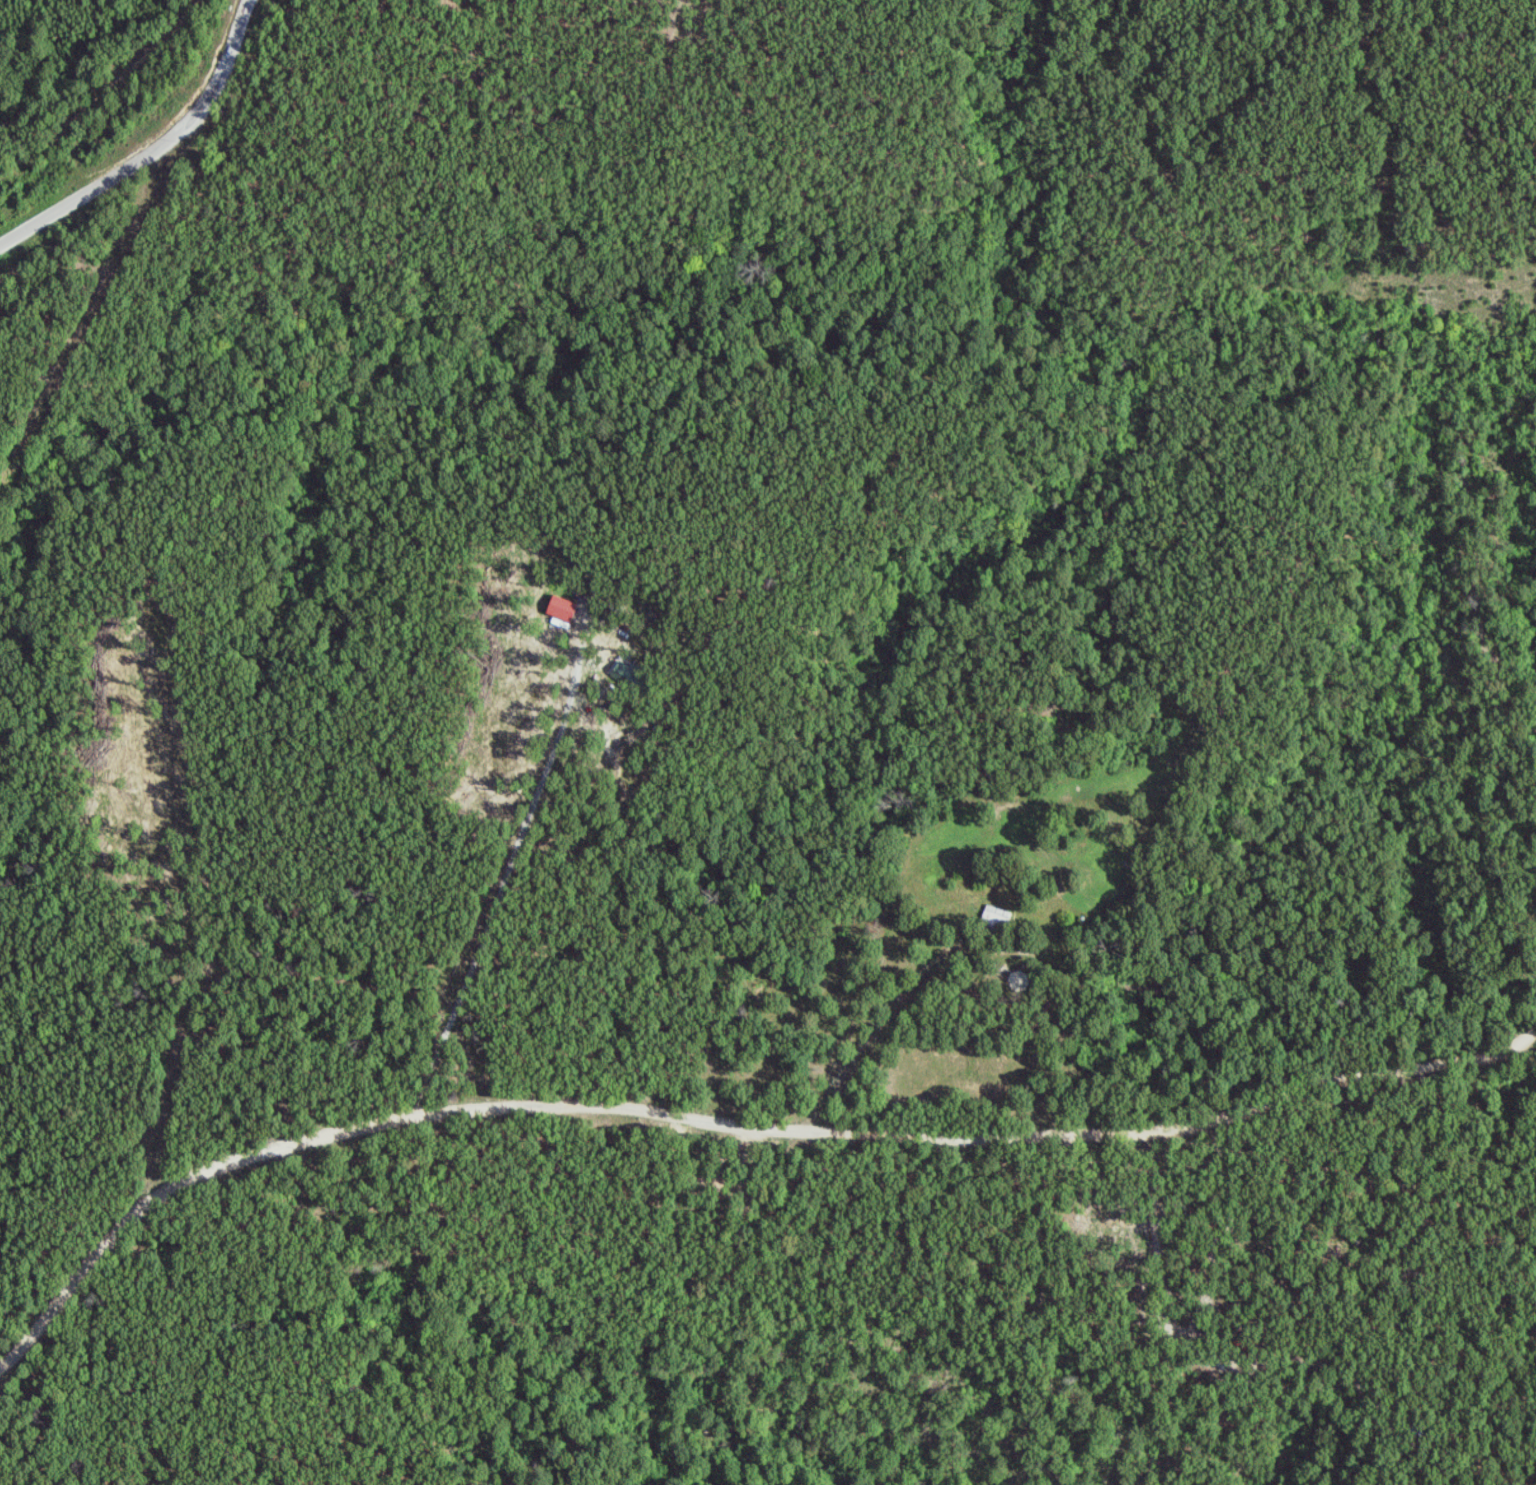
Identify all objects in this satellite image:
road: (152, 147)
building: (562, 608)
road: (515, 862)
road: (897, 1009)
road: (729, 1124)

